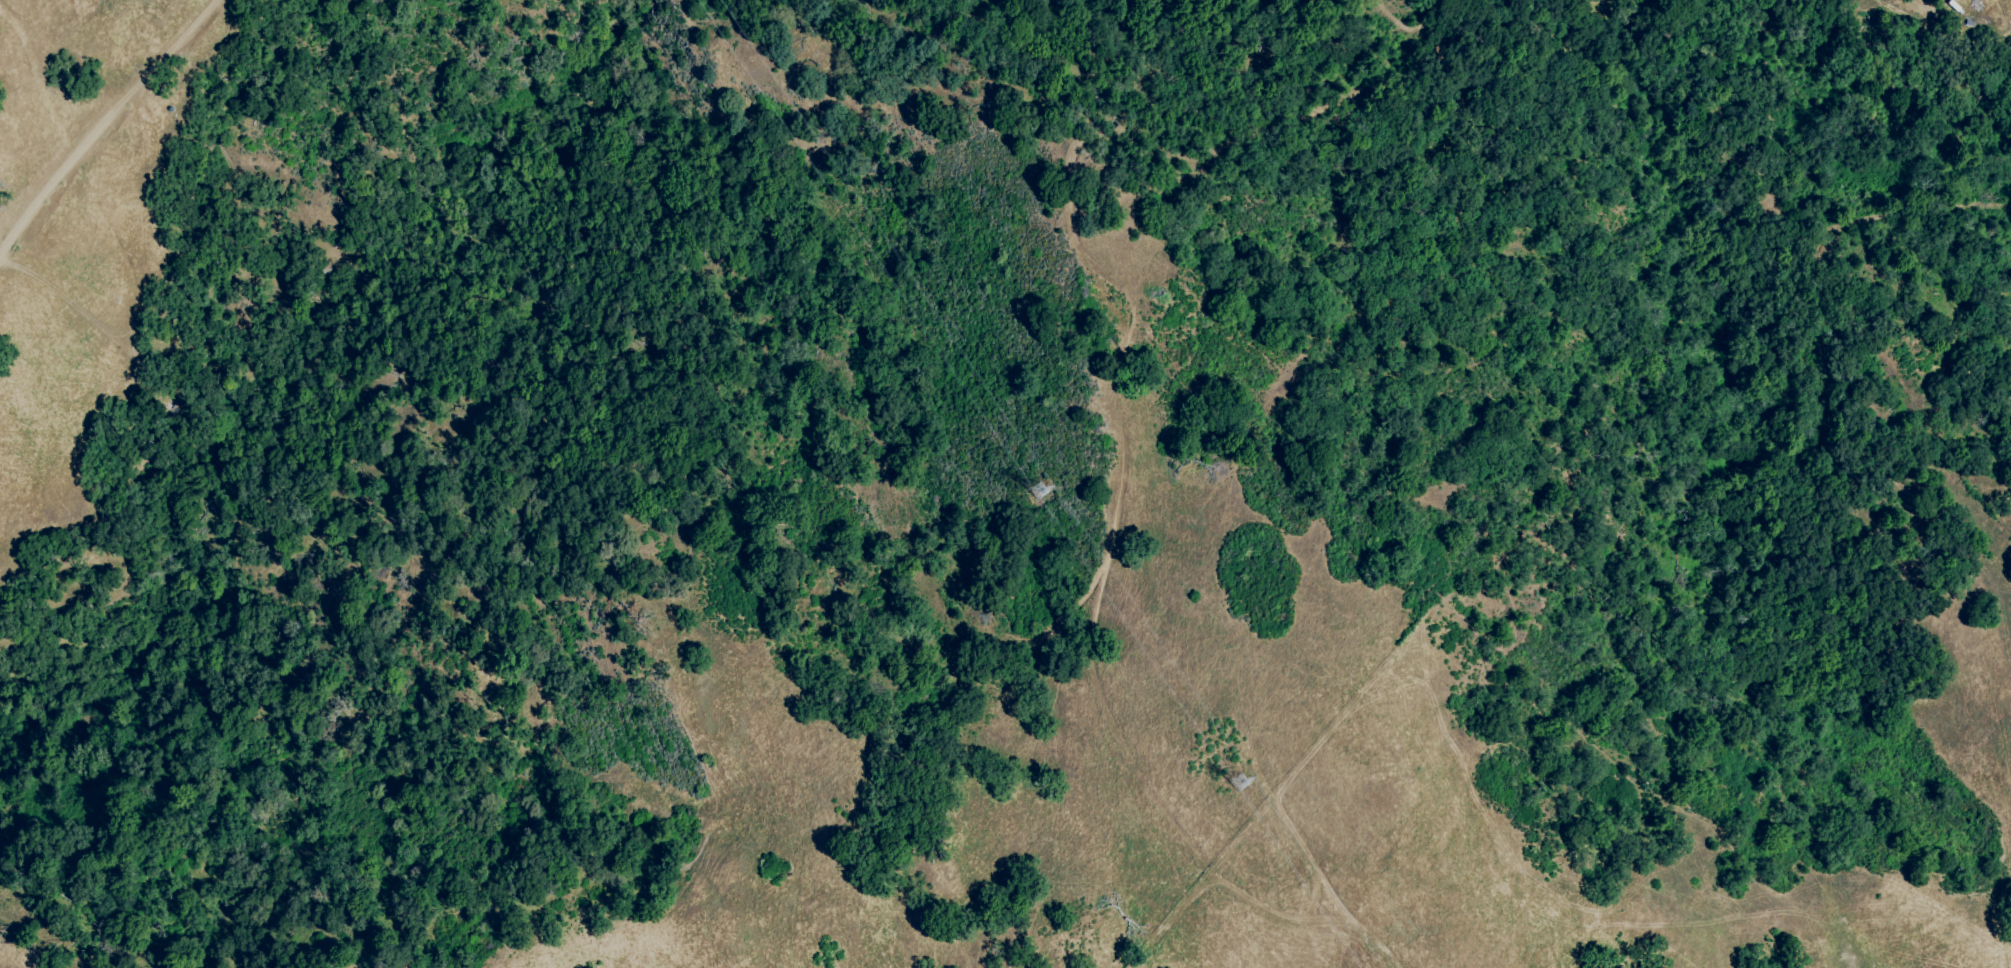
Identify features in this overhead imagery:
road: (100, 122)
power tower: (1013, 494)
power tower: (1232, 784)

